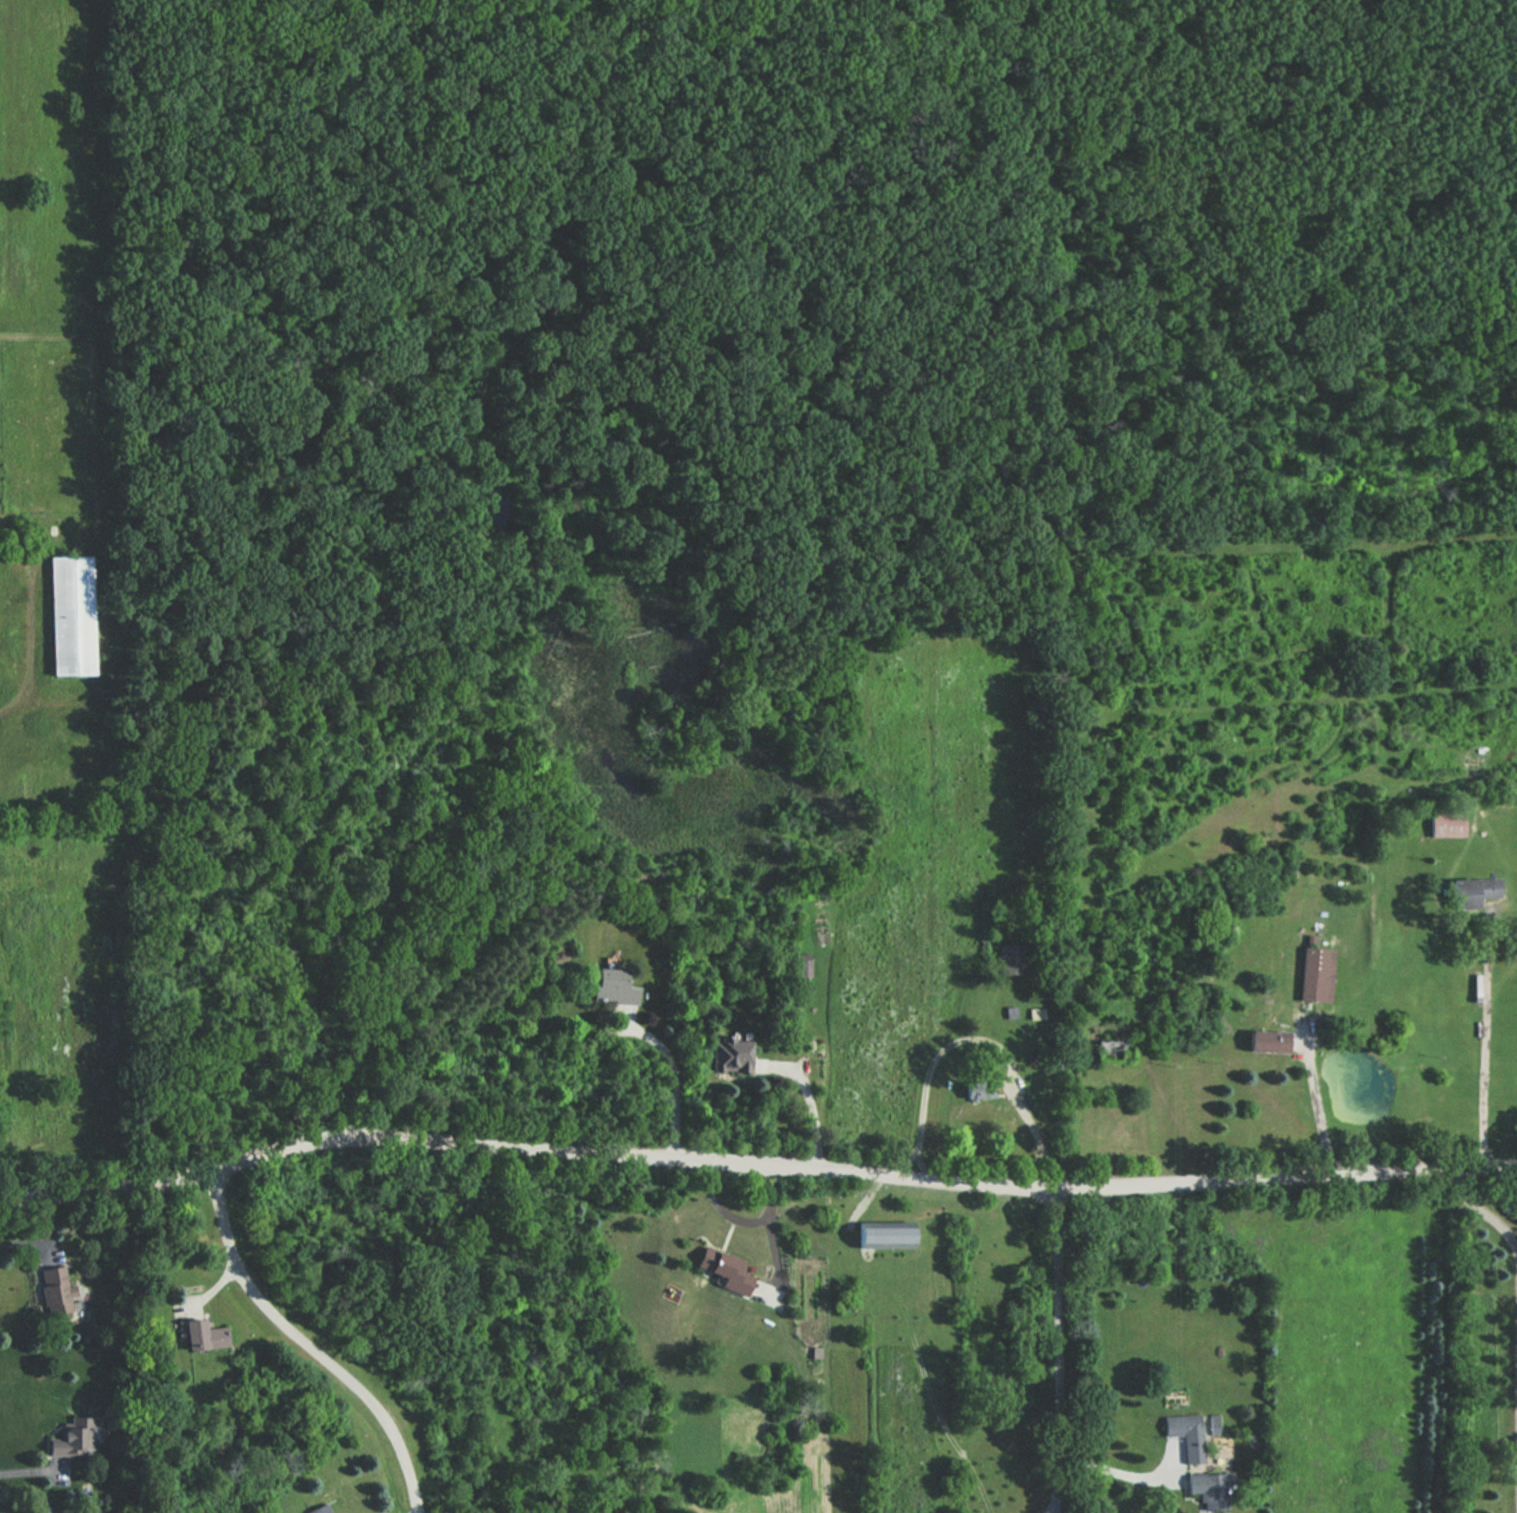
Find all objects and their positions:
building: (68, 613)
building: (1445, 822)
building: (1471, 890)
building: (1011, 959)
building: (1314, 973)
building: (609, 986)
building: (1011, 1011)
building: (1037, 1014)
road: (981, 1033)
building: (1266, 1040)
road: (1487, 1040)
building: (1110, 1051)
building: (730, 1053)
building: (1032, 1059)
road: (675, 1082)
road: (1318, 1109)
road: (756, 1160)
road: (1473, 1210)
road: (744, 1215)
building: (882, 1235)
road: (20, 1246)
building: (723, 1269)
building: (53, 1291)
building: (201, 1336)
road: (305, 1345)
road: (1057, 1350)
building: (1216, 1423)
building: (1189, 1435)
building: (71, 1438)
road: (31, 1467)
road: (1117, 1473)
building: (1208, 1488)
building: (319, 1509)

